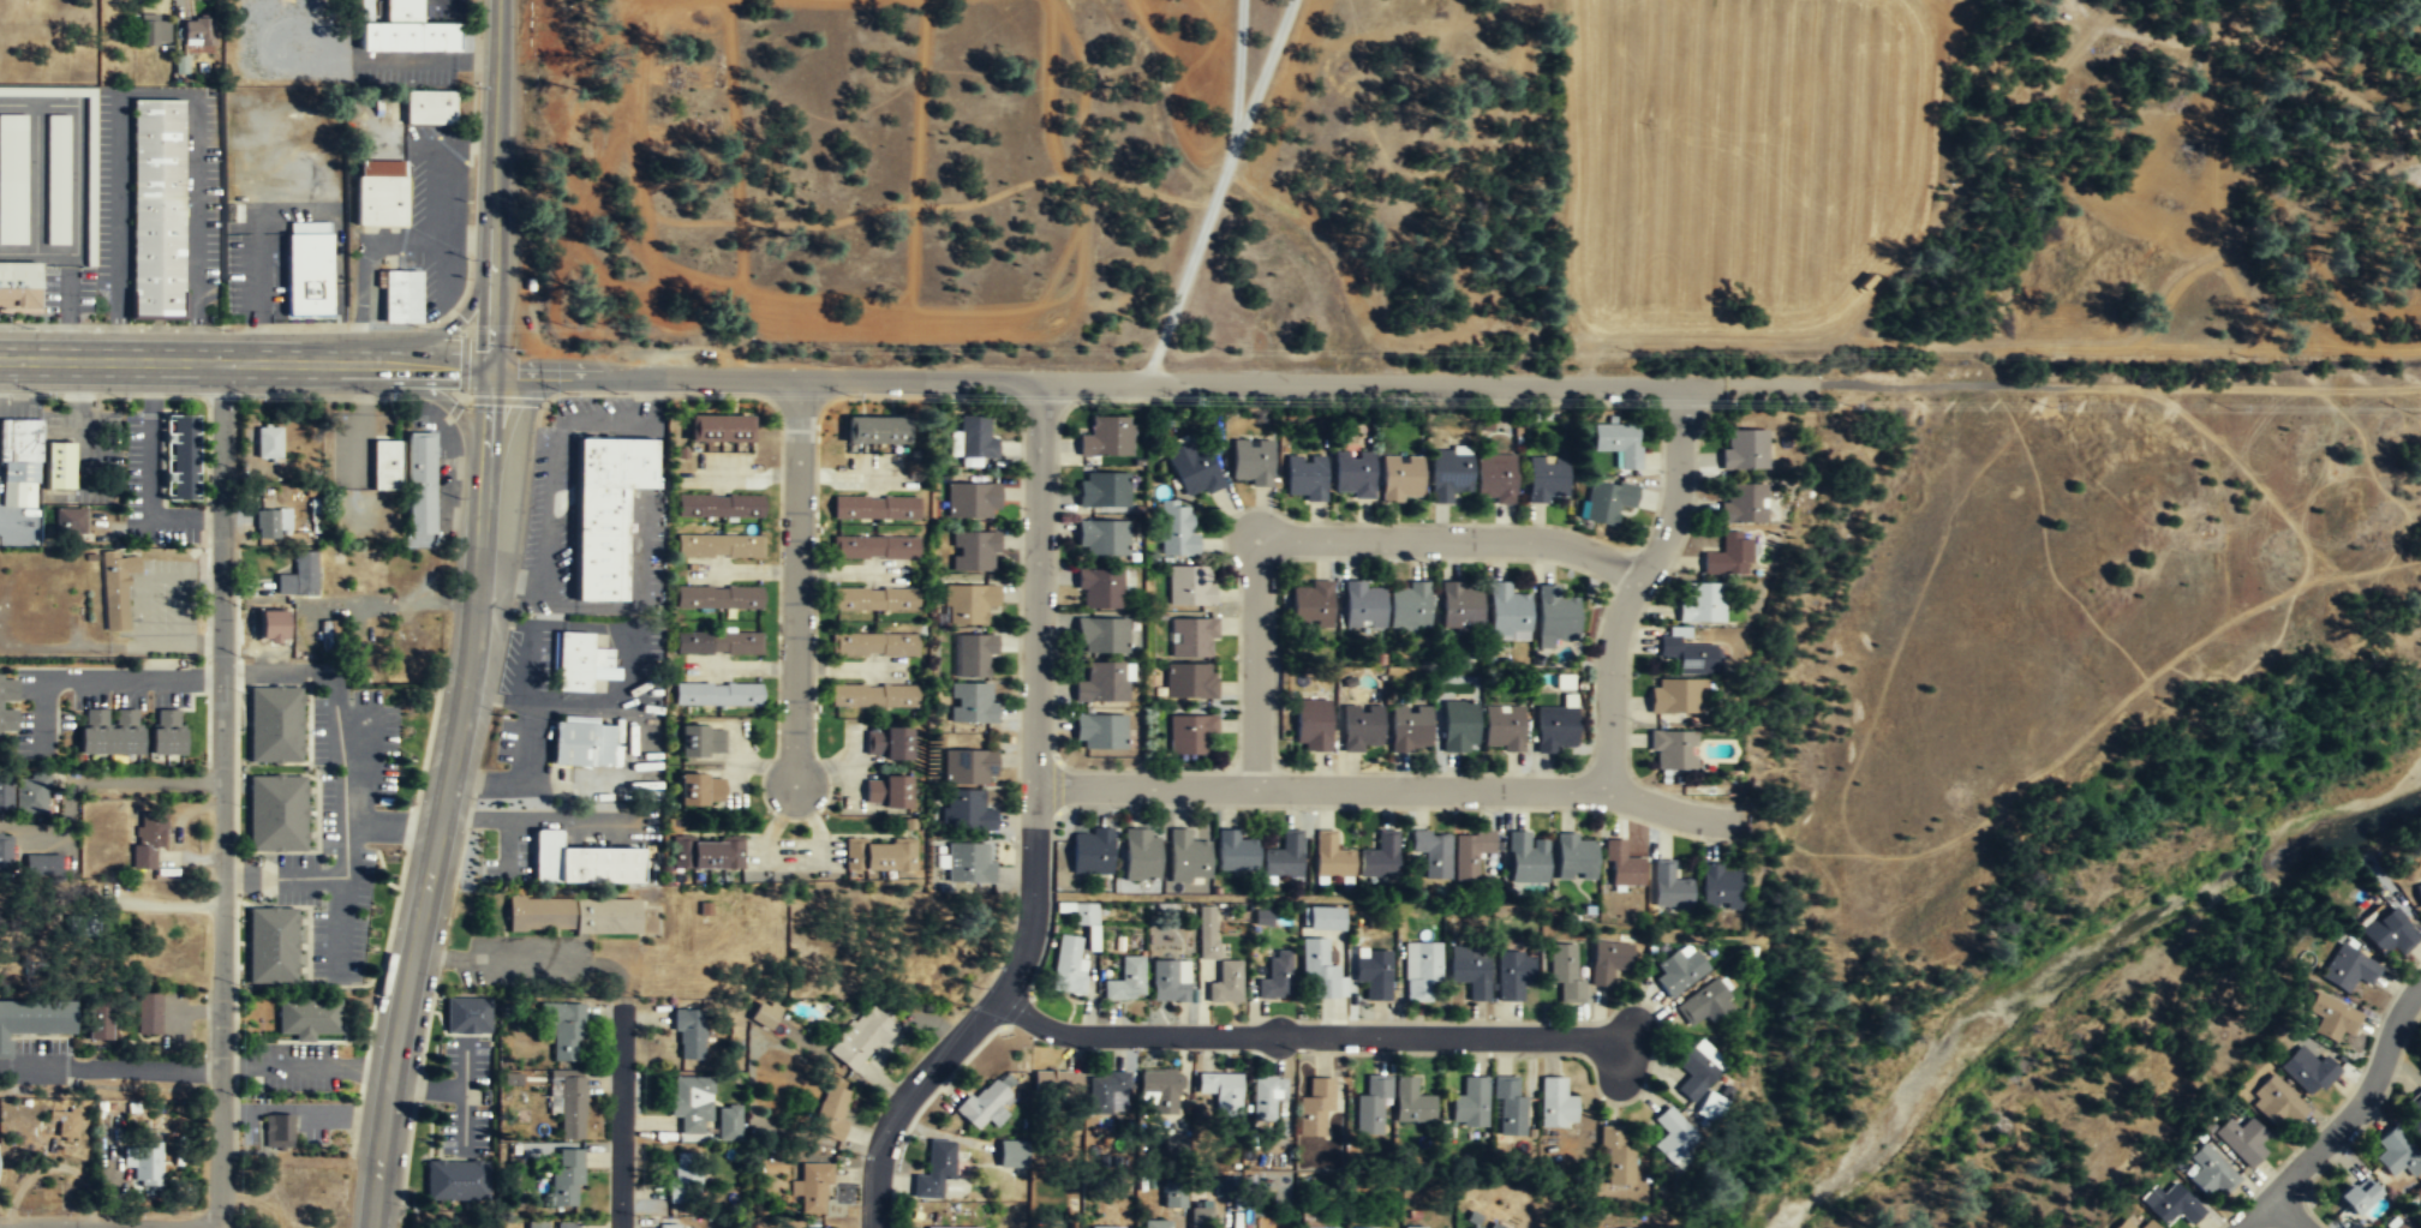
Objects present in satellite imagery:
building: (359, 8)
building: (401, 10)
building: (150, 29)
building: (197, 30)
building: (406, 36)
road: (425, 60)
building: (178, 64)
road: (159, 92)
building: (430, 107)
road: (76, 143)
parking lot: (283, 143)
building: (12, 178)
road: (34, 178)
building: (56, 179)
building: (90, 181)
road: (1217, 191)
building: (379, 192)
road: (434, 199)
building: (157, 209)
road: (255, 245)
road: (32, 252)
road: (363, 262)
building: (307, 268)
building: (18, 284)
building: (401, 296)
road: (65, 307)
road: (430, 336)
road: (245, 363)
road: (1102, 383)
road: (414, 389)
street lamp: (256, 393)
street lamp: (849, 395)
building: (719, 427)
building: (875, 430)
building: (1105, 437)
building: (974, 438)
building: (1618, 442)
building: (262, 444)
building: (20, 450)
building: (1742, 450)
building: (181, 457)
building: (1250, 462)
building: (385, 463)
building: (58, 465)
building: (1194, 468)
building: (1448, 474)
building: (1352, 475)
building: (1494, 477)
building: (1305, 478)
building: (1400, 479)
building: (1546, 480)
building: (420, 485)
building: (1102, 491)
building: (1606, 499)
building: (973, 501)
building: (1741, 503)
building: (719, 504)
building: (874, 508)
building: (604, 513)
building: (68, 517)
building: (269, 525)
building: (1178, 531)
road: (1327, 537)
building: (1102, 539)
building: (719, 545)
building: (874, 547)
building: (974, 552)
building: (1727, 556)
building: (299, 575)
road: (801, 583)
road: (1634, 586)
building: (115, 587)
building: (1189, 587)
building: (1099, 589)
building: (718, 597)
building: (874, 599)
building: (1700, 603)
building: (968, 604)
building: (1309, 604)
building: (1359, 606)
building: (1406, 607)
building: (1458, 609)
building: (1506, 615)
building: (1553, 617)
road: (476, 618)
building: (277, 625)
building: (1100, 636)
building: (413, 637)
building: (1191, 639)
building: (717, 642)
building: (873, 645)
building: (1690, 654)
building: (973, 655)
building: (578, 663)
road: (101, 678)
building: (1189, 682)
building: (1100, 684)
building: (717, 694)
building: (872, 696)
building: (1676, 696)
building: (972, 703)
building: (7, 705)
building: (273, 725)
building: (1310, 726)
building: (1361, 727)
building: (1458, 727)
building: (1409, 729)
building: (1501, 729)
building: (1554, 729)
building: (109, 731)
building: (166, 732)
building: (1099, 732)
building: (1189, 735)
building: (700, 741)
building: (581, 743)
building: (886, 743)
building: (1672, 750)
building: (969, 768)
road: (149, 781)
road: (1385, 786)
building: (700, 789)
building: (5, 792)
building: (885, 792)
building: (30, 793)
road: (227, 795)
building: (966, 811)
building: (275, 813)
road: (1034, 828)
building: (147, 841)
building: (1235, 851)
building: (1090, 852)
building: (5, 853)
building: (706, 853)
building: (1433, 853)
building: (1470, 853)
building: (1283, 855)
building: (1140, 856)
building: (1379, 856)
building: (878, 857)
building: (1186, 857)
building: (1331, 857)
building: (1576, 857)
building: (1525, 858)
building: (581, 861)
building: (969, 863)
building: (42, 865)
building: (1620, 865)
building: (1668, 885)
building: (1718, 886)
building: (2417, 894)
building: (572, 915)
building: (1084, 915)
building: (1325, 918)
building: (1207, 932)
building: (2387, 933)
building: (270, 946)
building: (1607, 963)
river: (2066, 964)
building: (1068, 966)
building: (1319, 969)
building: (1421, 969)
building: (1470, 969)
building: (1564, 970)
building: (1679, 970)
building: (2347, 970)
building: (1373, 971)
building: (1512, 972)
building: (1275, 980)
building: (1124, 981)
building: (1168, 981)
building: (1225, 983)
building: (1704, 1002)
street lamp: (964, 1004)
building: (148, 1012)
building: (467, 1014)
building: (764, 1014)
building: (307, 1017)
building: (2330, 1018)
building: (34, 1019)
building: (97, 1020)
building: (564, 1029)
building: (688, 1031)
road: (1307, 1036)
building: (861, 1040)
street lamp: (1297, 1050)
road: (156, 1066)
building: (1697, 1067)
building: (2307, 1072)
building: (1056, 1085)
building: (1159, 1090)
building: (1221, 1090)
building: (1105, 1091)
building: (1266, 1096)
building: (567, 1100)
building: (1410, 1101)
building: (691, 1102)
building: (1470, 1103)
building: (1554, 1103)
building: (2274, 1103)
building: (115, 1104)
building: (1370, 1104)
building: (1709, 1104)
building: (984, 1106)
building: (1315, 1106)
building: (1508, 1108)
building: (831, 1112)
road: (2348, 1116)
building: (2414, 1116)
road: (622, 1118)
building: (66, 1124)
building: (728, 1124)
building: (277, 1131)
building: (1673, 1137)
building: (2241, 1142)
building: (1177, 1146)
street lamp: (859, 1154)
building: (1011, 1154)
building: (2395, 1154)
building: (1615, 1155)
building: (144, 1156)
building: (934, 1169)
building: (2208, 1173)
building: (566, 1176)
building: (682, 1178)
building: (456, 1180)
building: (812, 1187)
building: (2355, 1198)
building: (1173, 1199)
building: (2175, 1206)
building: (2419, 1206)
road: (2286, 1211)
street lamp: (638, 1214)
building: (1200, 1216)
building: (2420, 1216)
building: (1159, 1223)
building: (537, 1224)
building: (569, 1224)
building: (2122, 1224)
building: (2147, 1224)
building: (2403, 1224)
building: (672, 1226)
building: (1413, 1226)
building: (1495, 1226)
building: (952, 1227)
building: (1107, 1227)
building: (1319, 1227)
building: (1363, 1227)
building: (1475, 1227)

